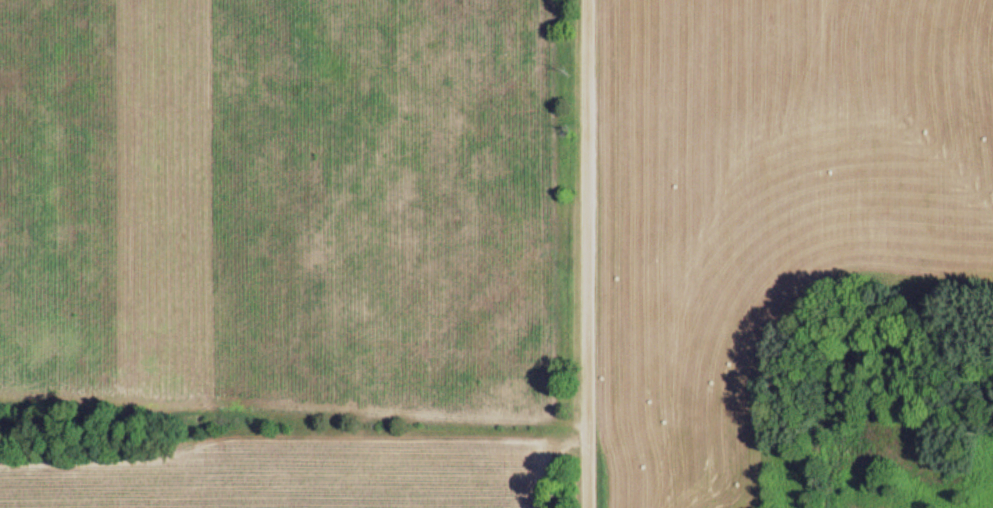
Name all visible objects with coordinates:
road: (583, 254)

